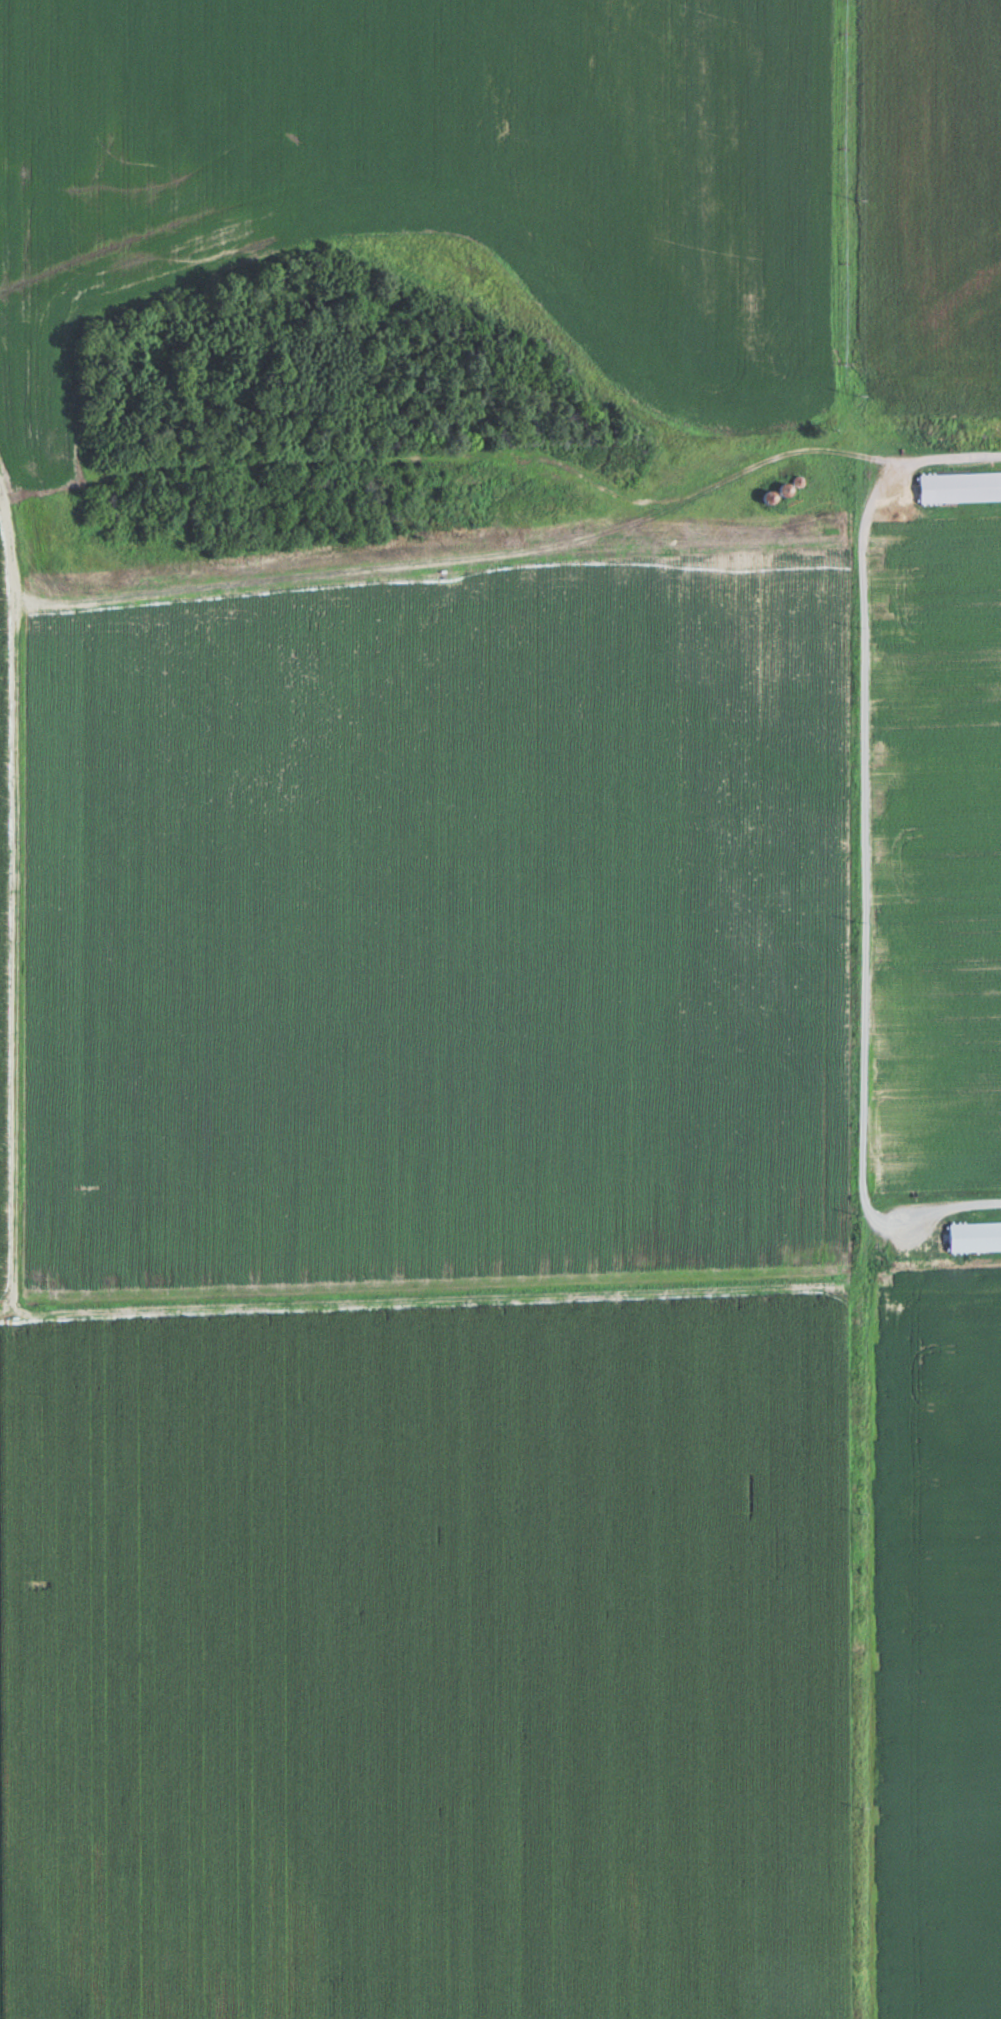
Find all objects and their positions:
road: (960, 453)
road: (965, 1198)
building: (974, 1236)

